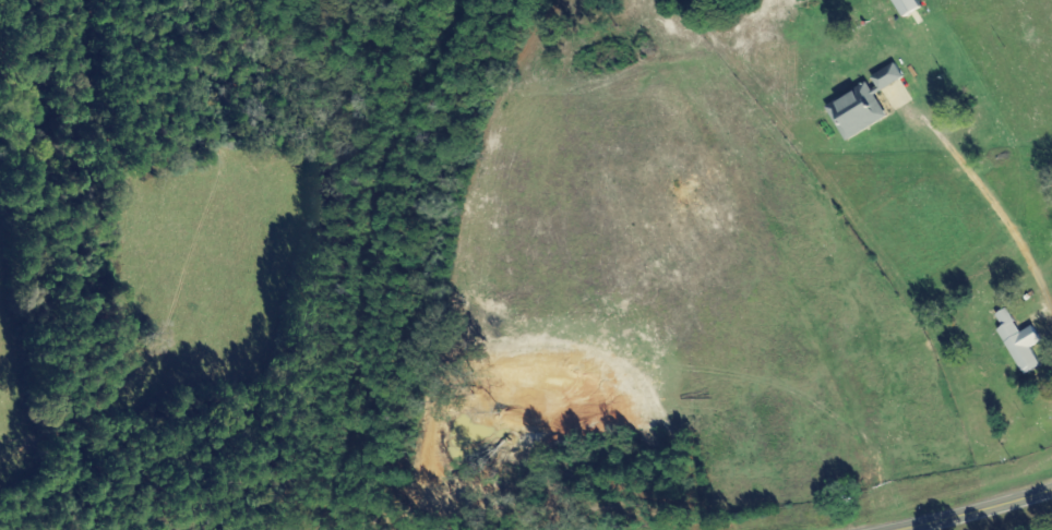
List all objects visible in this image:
building: (904, 5)
building: (865, 103)
railway: (328, 256)
building: (1017, 339)
road: (972, 510)

